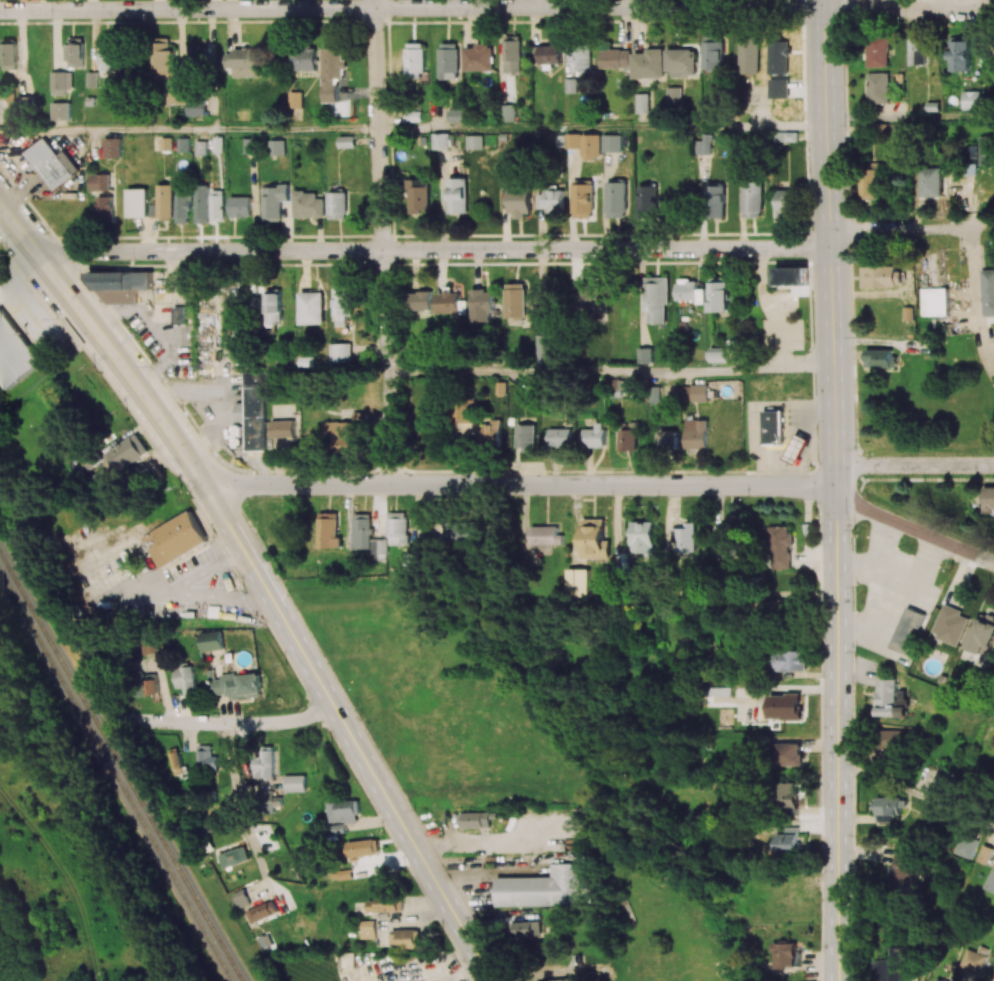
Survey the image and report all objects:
road: (899, 4)
road: (411, 7)
building: (878, 50)
building: (75, 51)
building: (916, 51)
building: (512, 53)
building: (550, 53)
building: (108, 54)
building: (197, 54)
building: (713, 54)
building: (960, 54)
building: (9, 55)
building: (748, 55)
building: (778, 56)
building: (479, 57)
building: (581, 57)
building: (162, 58)
building: (615, 58)
building: (303, 59)
building: (414, 60)
building: (449, 60)
building: (244, 61)
building: (681, 62)
building: (649, 63)
building: (333, 71)
building: (92, 78)
building: (61, 81)
building: (779, 88)
building: (878, 88)
building: (176, 94)
building: (673, 96)
building: (295, 99)
building: (972, 100)
building: (642, 102)
building: (195, 106)
building: (61, 110)
building: (507, 112)
building: (413, 115)
building: (455, 115)
road: (909, 117)
road: (602, 125)
road: (189, 131)
building: (442, 140)
building: (573, 140)
building: (347, 141)
building: (475, 141)
building: (612, 142)
building: (183, 144)
building: (591, 145)
building: (704, 145)
building: (113, 146)
building: (249, 146)
building: (201, 147)
building: (277, 147)
building: (985, 149)
building: (968, 160)
building: (52, 163)
building: (99, 181)
building: (928, 182)
building: (869, 183)
building: (419, 195)
building: (457, 195)
building: (582, 199)
building: (616, 199)
building: (752, 199)
building: (165, 200)
building: (274, 200)
building: (551, 200)
building: (519, 201)
building: (647, 201)
building: (715, 201)
building: (137, 202)
building: (786, 202)
building: (201, 203)
building: (308, 204)
building: (338, 204)
building: (216, 205)
building: (240, 206)
building: (105, 208)
building: (183, 208)
road: (911, 225)
road: (830, 239)
road: (381, 240)
road: (433, 249)
building: (790, 276)
building: (882, 276)
building: (121, 285)
building: (686, 289)
building: (987, 290)
building: (718, 294)
building: (589, 297)
building: (655, 298)
building: (254, 300)
building: (517, 300)
building: (933, 301)
building: (343, 302)
building: (422, 303)
building: (451, 303)
building: (484, 305)
building: (273, 306)
road: (975, 306)
building: (311, 307)
building: (177, 314)
road: (106, 346)
building: (545, 349)
building: (340, 352)
building: (14, 353)
building: (718, 354)
building: (644, 355)
building: (880, 357)
road: (609, 369)
building: (615, 386)
building: (531, 392)
building: (694, 392)
building: (654, 394)
building: (254, 409)
park: (938, 423)
building: (773, 427)
building: (283, 428)
building: (491, 430)
building: (695, 433)
building: (341, 434)
building: (593, 435)
building: (526, 437)
building: (559, 437)
building: (668, 439)
building: (128, 451)
road: (915, 465)
road: (524, 482)
building: (989, 499)
building: (398, 528)
building: (328, 530)
building: (461, 530)
road: (914, 530)
building: (545, 535)
building: (368, 536)
building: (685, 536)
building: (643, 537)
building: (593, 538)
building: (728, 538)
building: (174, 539)
road: (884, 543)
building: (780, 546)
building: (412, 559)
road: (916, 566)
building: (577, 582)
road: (878, 593)
road: (190, 596)
building: (771, 608)
building: (949, 624)
building: (907, 630)
building: (982, 635)
building: (211, 640)
building: (148, 647)
building: (790, 660)
building: (185, 679)
building: (236, 685)
building: (152, 686)
building: (719, 691)
building: (887, 697)
road: (836, 702)
building: (785, 706)
road: (224, 725)
road: (350, 735)
building: (892, 739)
building: (789, 754)
building: (206, 759)
building: (176, 762)
building: (263, 763)
railway: (121, 769)
railway: (114, 779)
building: (943, 780)
building: (295, 783)
road: (914, 793)
building: (788, 797)
building: (269, 801)
road: (247, 804)
building: (888, 808)
building: (343, 811)
building: (478, 819)
building: (788, 841)
building: (966, 845)
building: (362, 847)
building: (985, 854)
building: (233, 857)
building: (904, 866)
building: (541, 888)
building: (241, 898)
building: (386, 903)
building: (262, 911)
building: (368, 928)
building: (527, 928)
building: (405, 937)
building: (786, 954)
road: (835, 954)
road: (840, 954)
building: (971, 960)
building: (892, 966)
building: (938, 979)

